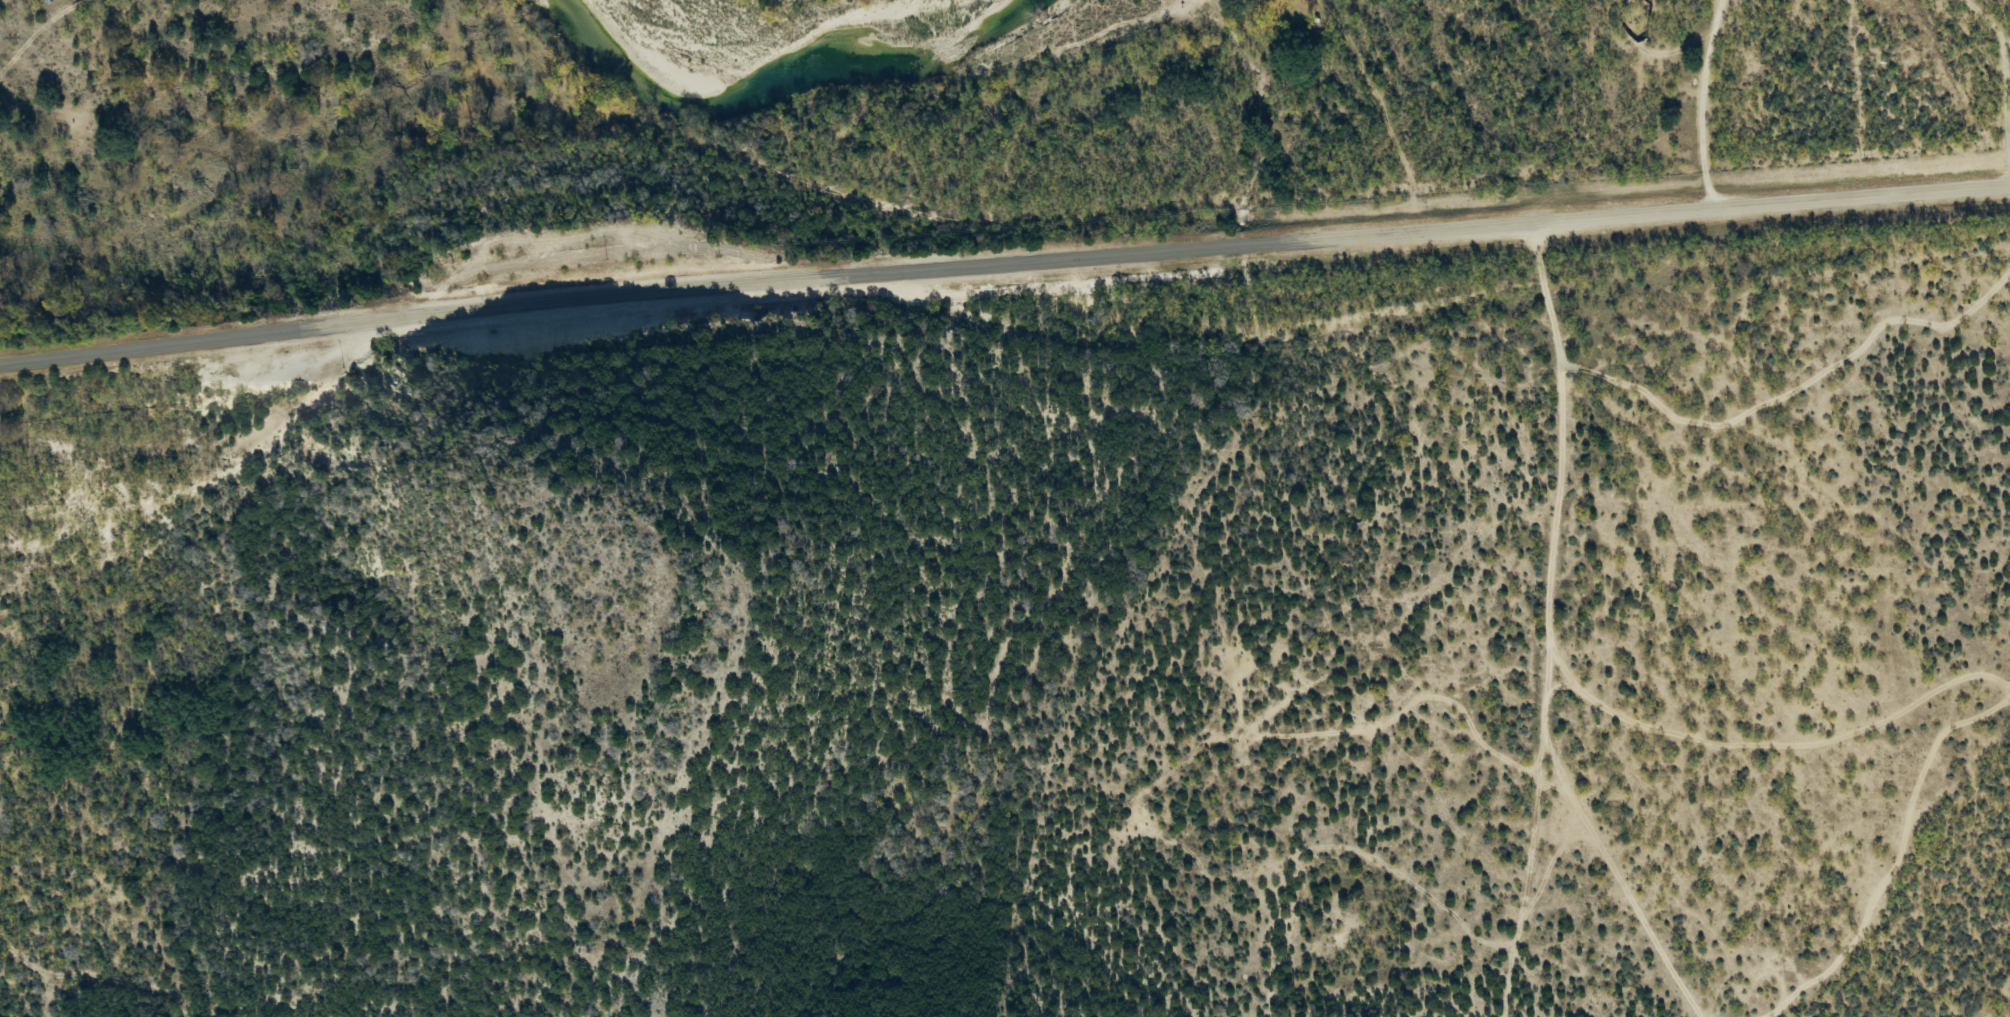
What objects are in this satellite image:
river: (832, 83)
road: (1699, 106)
road: (1003, 267)
road: (1545, 622)

